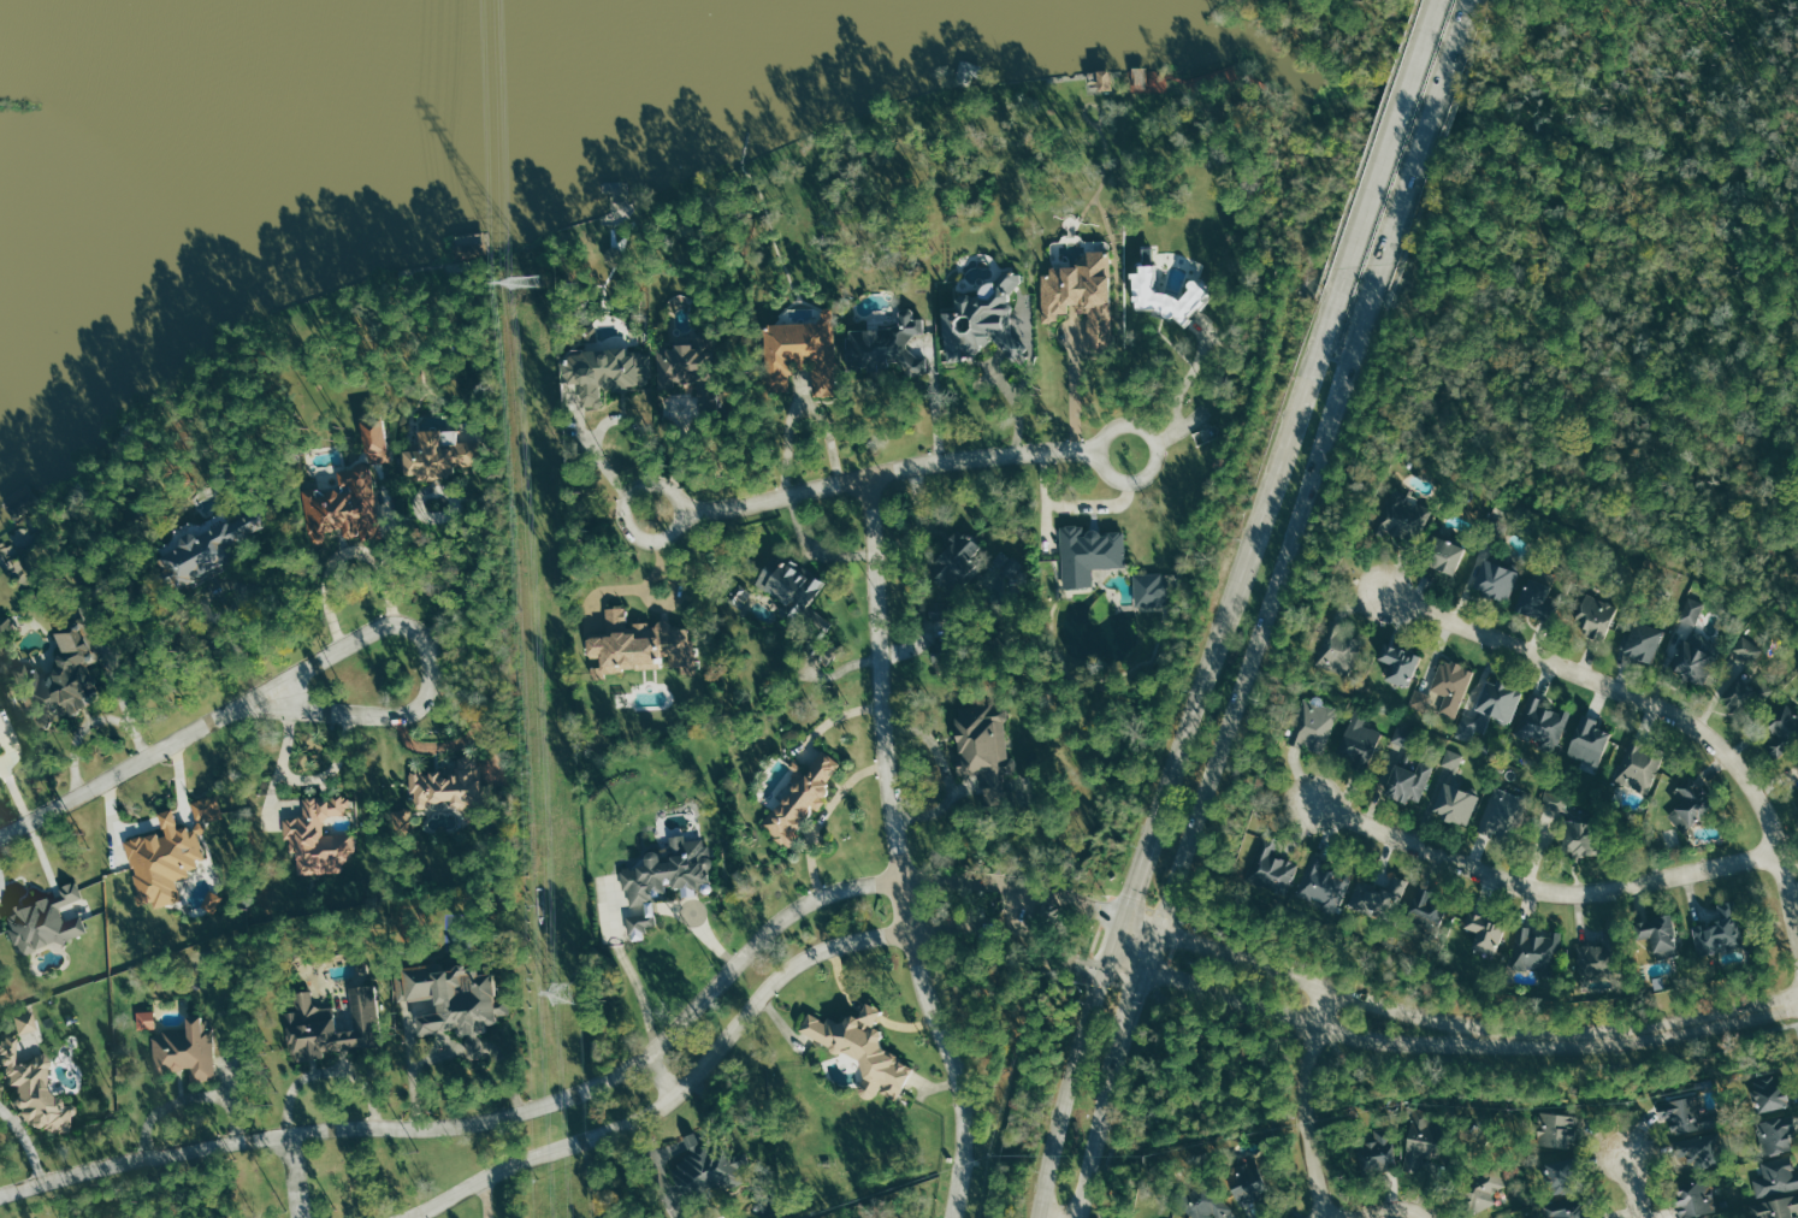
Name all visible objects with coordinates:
building: (1137, 77)
building: (1100, 81)
road: (1403, 87)
road: (1437, 94)
road: (1456, 95)
power tower: (526, 280)
building: (1075, 288)
building: (1159, 292)
building: (586, 333)
building: (883, 347)
building: (800, 353)
building: (690, 369)
building: (605, 371)
road: (1074, 390)
road: (1176, 400)
road: (798, 404)
building: (386, 437)
building: (438, 455)
road: (681, 461)
road: (605, 466)
road: (885, 471)
building: (349, 495)
road: (1262, 503)
building: (1402, 521)
building: (230, 542)
road: (812, 546)
road: (343, 550)
road: (481, 552)
building: (1087, 554)
building: (1442, 554)
road: (1284, 560)
building: (954, 562)
road: (1300, 563)
building: (1495, 579)
building: (789, 585)
building: (1148, 589)
building: (1537, 598)
building: (1692, 611)
building: (1596, 615)
building: (5, 628)
road: (229, 634)
building: (1643, 640)
building: (640, 644)
building: (1337, 649)
building: (941, 652)
building: (1692, 658)
road: (428, 661)
building: (1398, 664)
building: (1744, 676)
building: (59, 681)
building: (1450, 685)
road: (880, 688)
road: (1636, 691)
building: (1497, 699)
road: (475, 722)
building: (1472, 723)
building: (1543, 725)
building: (1313, 726)
building: (1782, 729)
building: (1358, 739)
building: (1587, 740)
building: (982, 744)
building: (2, 745)
road: (432, 745)
building: (1451, 759)
building: (1637, 763)
road: (130, 767)
building: (1407, 781)
building: (451, 787)
road: (18, 792)
building: (803, 797)
building: (1554, 802)
building: (1454, 803)
building: (1691, 803)
building: (1496, 812)
road: (820, 814)
building: (401, 823)
building: (318, 836)
building: (1577, 836)
building: (168, 852)
building: (1271, 868)
building: (664, 880)
building: (1325, 882)
road: (1543, 882)
road: (1, 883)
traffic signals: (1130, 892)
road: (1052, 893)
building: (1377, 895)
road: (1126, 900)
road: (1015, 907)
building: (1426, 909)
building: (43, 922)
road: (1138, 924)
building: (1719, 930)
building: (1483, 933)
building: (1658, 934)
traffic signals: (1181, 939)
road: (1041, 947)
building: (1534, 948)
traffic signals: (1081, 960)
building: (1590, 965)
road: (1122, 968)
road: (1319, 986)
traffic signals: (1136, 991)
power tower: (562, 992)
building: (453, 1000)
road: (1132, 1000)
road: (864, 1009)
building: (152, 1019)
building: (24, 1023)
road: (1309, 1023)
building: (332, 1025)
road: (1642, 1028)
building: (184, 1048)
building: (859, 1050)
road: (951, 1057)
road: (699, 1070)
road: (661, 1071)
building: (1766, 1089)
road: (1065, 1092)
building: (30, 1093)
road: (1305, 1102)
road: (524, 1108)
building: (1685, 1111)
building: (1555, 1130)
building: (1776, 1134)
road: (25, 1140)
road: (693, 1140)
road: (1093, 1143)
building: (1414, 1147)
building: (1372, 1151)
building: (1695, 1151)
building: (708, 1169)
road: (295, 1176)
building: (1559, 1177)
building: (1243, 1183)
road: (1634, 1187)
building: (1481, 1188)
road: (484, 1196)
building: (1698, 1199)
building: (1207, 1204)
building: (1778, 1207)
road: (1376, 1208)
building: (1568, 1208)
road: (414, 1216)
road: (1043, 1216)
building: (1506, 1217)
building: (1721, 1217)

